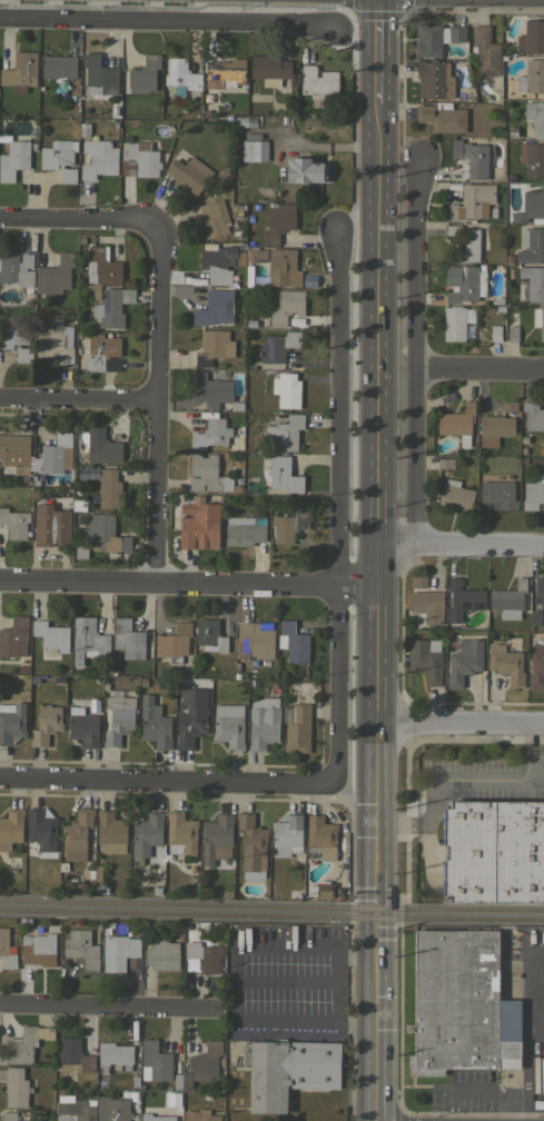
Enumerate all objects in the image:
road: (170, 23)
building: (532, 37)
building: (435, 38)
road: (383, 49)
building: (484, 52)
building: (58, 66)
building: (269, 68)
building: (20, 71)
building: (98, 71)
building: (226, 71)
building: (181, 73)
building: (144, 75)
building: (532, 76)
building: (434, 79)
building: (317, 82)
building: (267, 83)
building: (113, 110)
building: (442, 117)
building: (535, 117)
building: (132, 121)
building: (246, 121)
building: (115, 123)
building: (83, 130)
building: (511, 131)
building: (33, 146)
building: (254, 150)
building: (469, 157)
building: (59, 158)
building: (98, 158)
building: (532, 158)
building: (13, 159)
building: (139, 159)
building: (305, 170)
building: (188, 173)
building: (511, 177)
building: (453, 186)
building: (472, 201)
building: (256, 206)
building: (531, 206)
building: (491, 210)
building: (249, 217)
building: (214, 218)
building: (496, 219)
road: (76, 221)
building: (278, 222)
building: (235, 234)
building: (250, 242)
building: (465, 242)
building: (531, 246)
building: (256, 255)
building: (508, 259)
building: (217, 262)
building: (102, 265)
building: (283, 267)
building: (17, 269)
building: (512, 272)
building: (58, 274)
building: (248, 276)
building: (308, 280)
building: (465, 282)
building: (531, 284)
building: (96, 294)
building: (493, 299)
building: (286, 306)
building: (112, 307)
building: (214, 308)
building: (538, 320)
building: (456, 321)
building: (250, 323)
building: (495, 333)
building: (512, 333)
building: (17, 341)
building: (55, 343)
building: (278, 346)
road: (415, 346)
building: (214, 347)
building: (97, 350)
building: (111, 366)
road: (479, 369)
building: (212, 389)
building: (286, 390)
road: (78, 401)
road: (155, 401)
building: (238, 406)
building: (508, 406)
building: (533, 416)
building: (457, 423)
building: (286, 431)
building: (493, 431)
building: (210, 434)
building: (523, 439)
building: (102, 447)
building: (523, 450)
building: (16, 452)
building: (53, 454)
building: (523, 459)
building: (446, 463)
building: (207, 474)
building: (279, 474)
building: (109, 488)
building: (236, 488)
building: (498, 494)
building: (533, 494)
building: (455, 495)
road: (335, 505)
building: (79, 520)
building: (14, 523)
building: (50, 525)
building: (288, 526)
building: (198, 527)
road: (383, 529)
building: (244, 530)
building: (105, 533)
road: (463, 544)
building: (81, 550)
road: (190, 582)
building: (418, 582)
building: (540, 588)
building: (463, 599)
building: (508, 599)
building: (426, 606)
building: (535, 617)
building: (51, 635)
building: (209, 635)
building: (14, 637)
building: (128, 638)
building: (88, 641)
building: (255, 641)
building: (174, 642)
building: (293, 642)
building: (426, 659)
building: (464, 661)
building: (506, 664)
building: (235, 665)
building: (536, 667)
building: (21, 668)
building: (237, 675)
building: (33, 677)
building: (96, 678)
building: (141, 682)
building: (251, 682)
building: (105, 686)
building: (93, 703)
building: (118, 716)
building: (190, 717)
building: (11, 722)
building: (154, 723)
road: (463, 723)
building: (263, 724)
building: (46, 725)
building: (229, 725)
building: (82, 726)
building: (297, 727)
road: (531, 752)
road: (443, 780)
road: (162, 782)
building: (11, 827)
building: (41, 830)
building: (110, 832)
building: (180, 833)
building: (146, 834)
building: (77, 835)
building: (287, 835)
building: (217, 836)
building: (320, 839)
building: (251, 846)
building: (494, 852)
building: (99, 889)
building: (320, 889)
building: (157, 890)
building: (226, 893)
building: (338, 896)
railway: (271, 902)
railway: (271, 915)
road: (259, 946)
building: (81, 948)
building: (7, 951)
building: (37, 951)
building: (120, 953)
building: (162, 954)
road: (359, 955)
building: (201, 956)
road: (337, 989)
road: (382, 994)
building: (458, 1003)
road: (107, 1005)
road: (274, 1025)
road: (359, 1026)
building: (227, 1044)
building: (21, 1046)
building: (115, 1055)
building: (73, 1056)
building: (156, 1060)
building: (221, 1061)
building: (202, 1064)
building: (288, 1071)
road: (382, 1074)
building: (133, 1081)
building: (177, 1081)
building: (16, 1088)
building: (129, 1093)
building: (76, 1109)
building: (113, 1110)
building: (200, 1115)
building: (11, 1117)
building: (156, 1117)

